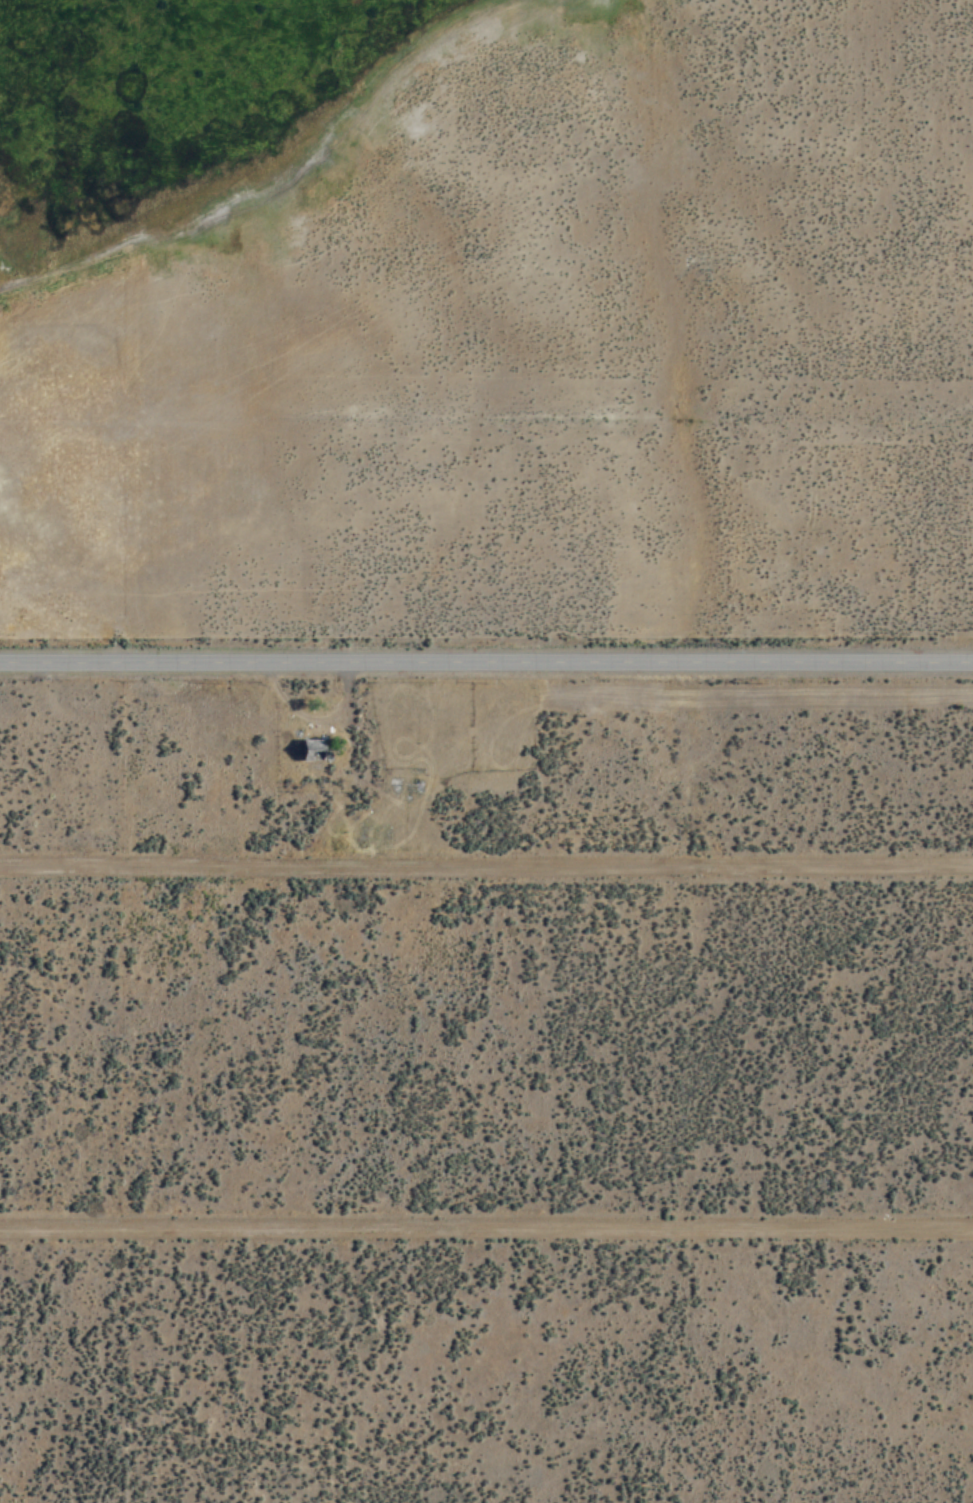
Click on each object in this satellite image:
road: (486, 664)
road: (486, 868)
road: (486, 1231)

